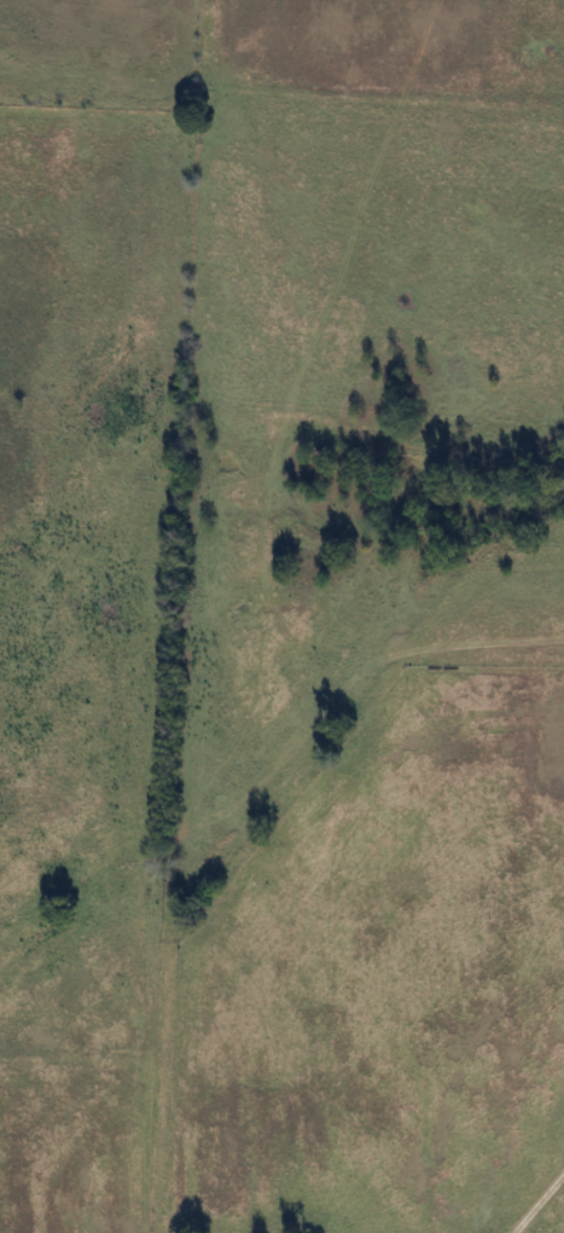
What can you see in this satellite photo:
road: (539, 1202)

